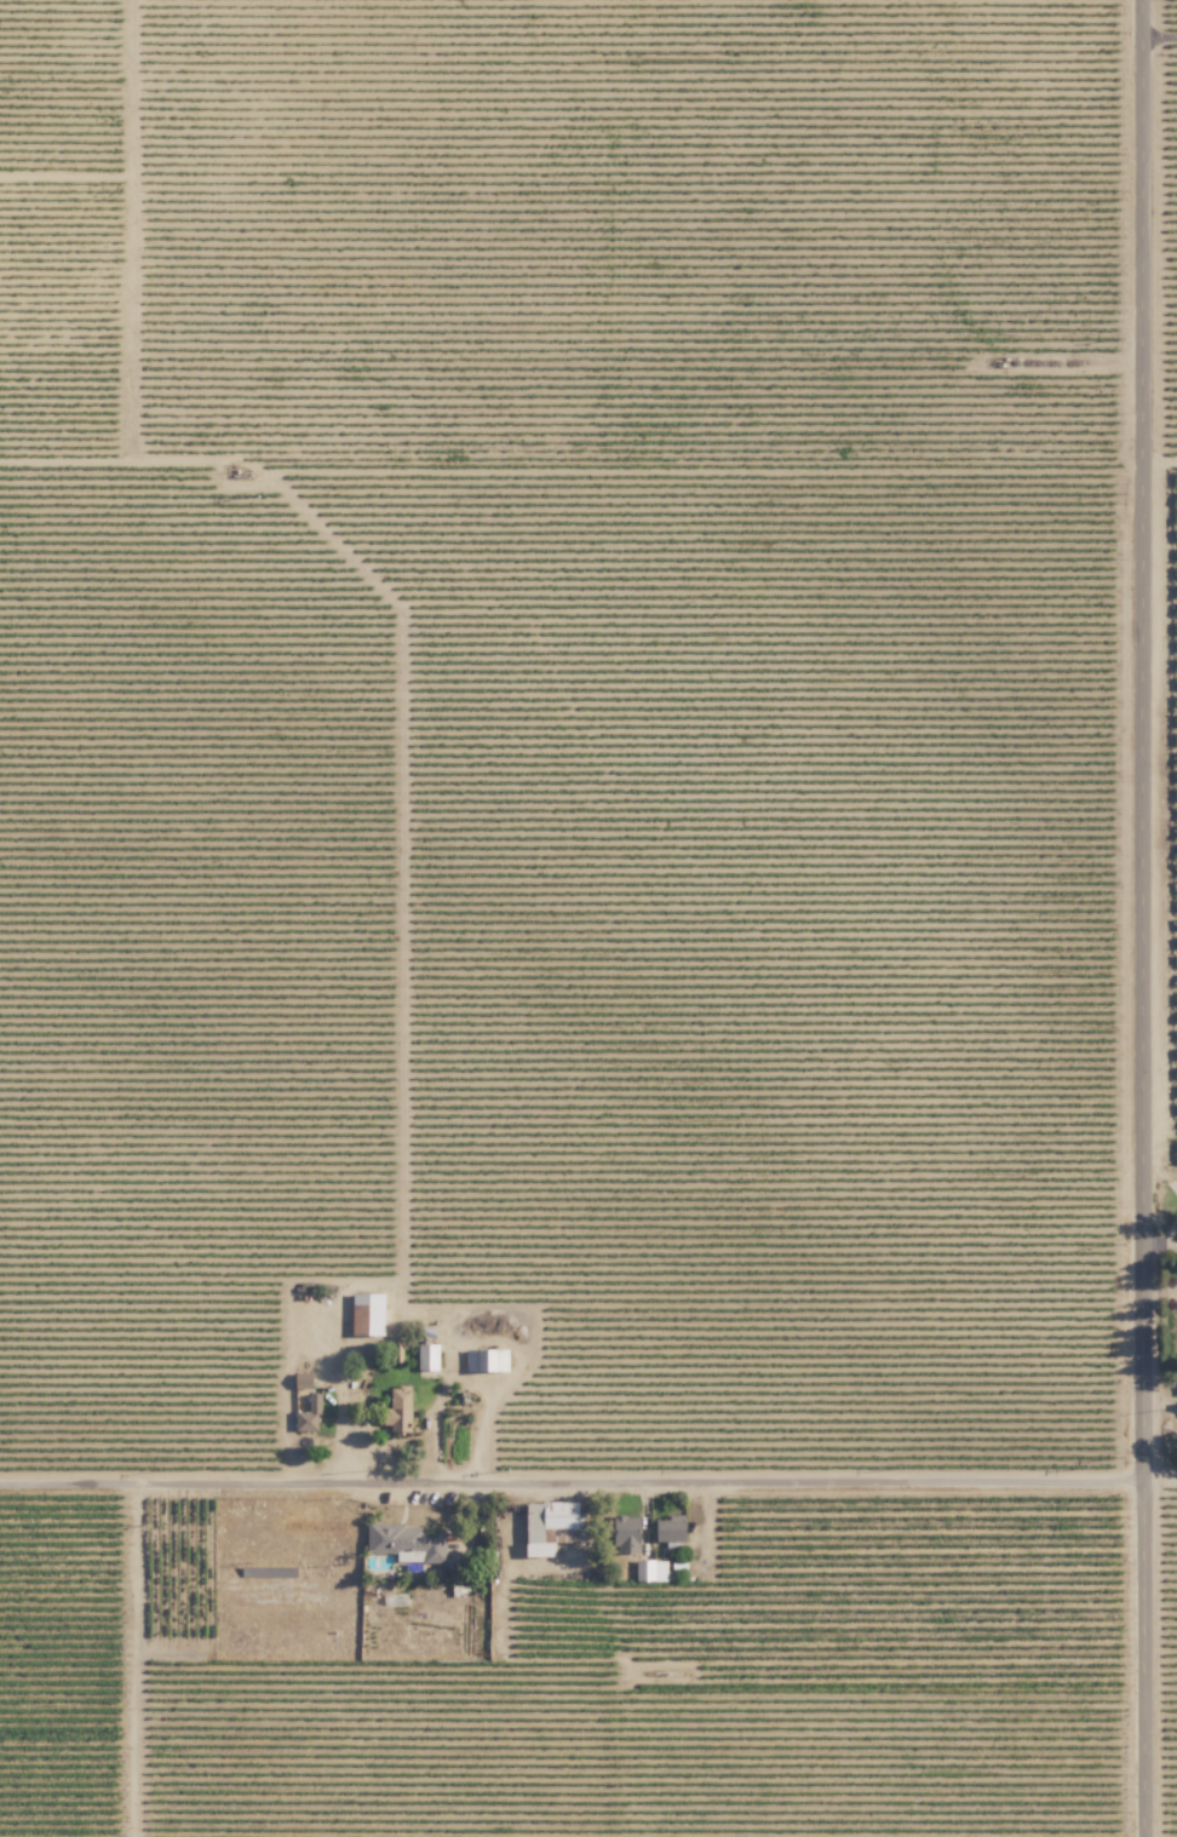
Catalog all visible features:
road: (1160, 35)
road: (1143, 918)
road: (401, 1304)
building: (368, 1313)
building: (427, 1356)
building: (487, 1360)
building: (401, 1408)
building: (308, 1419)
road: (1160, 1473)
road: (572, 1491)
building: (549, 1523)
building: (407, 1542)
building: (650, 1569)

